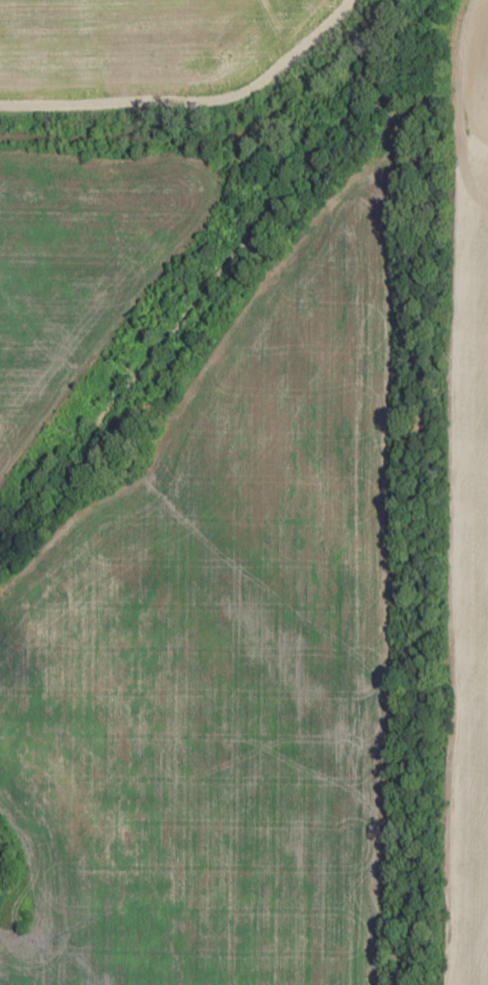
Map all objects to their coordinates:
road: (478, 814)

